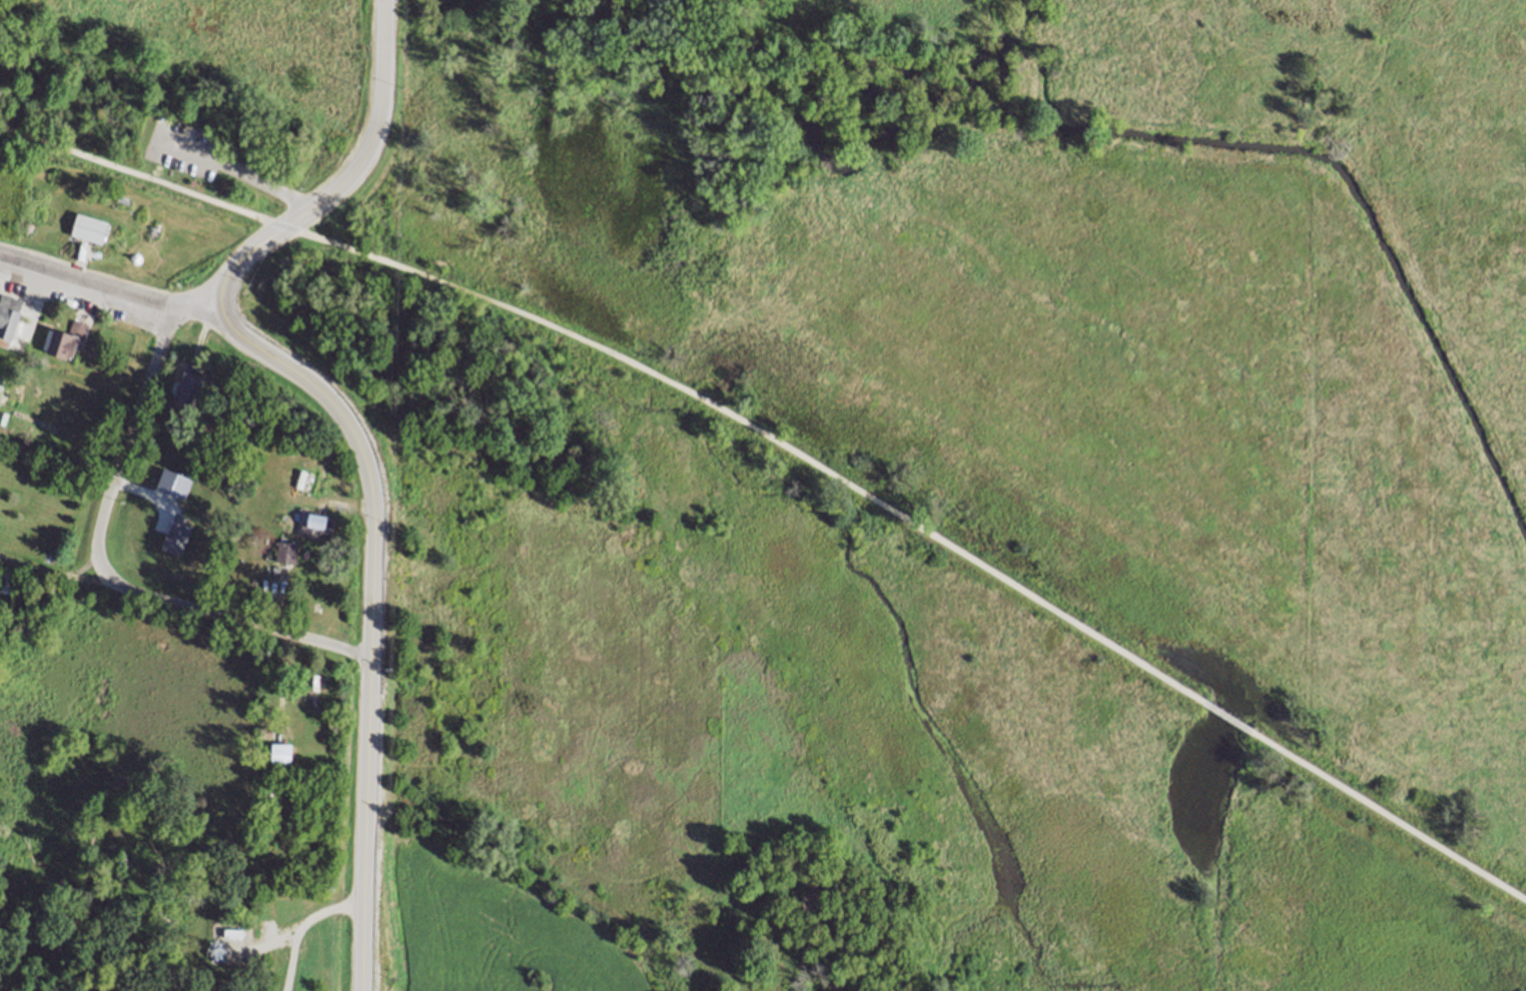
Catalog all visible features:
parking lot: (181, 151)
road: (185, 184)
road: (262, 186)
building: (87, 231)
road: (108, 291)
building: (8, 319)
building: (66, 340)
road: (626, 362)
building: (1, 384)
building: (184, 388)
building: (2, 420)
road: (353, 430)
road: (126, 434)
building: (315, 525)
building: (176, 533)
building: (287, 551)
road: (31, 570)
road: (66, 578)
building: (10, 582)
road: (227, 618)
building: (264, 675)
building: (311, 681)
building: (313, 699)
road: (1225, 718)
building: (265, 733)
building: (281, 752)
road: (1387, 817)
road: (556, 885)
building: (798, 896)
building: (830, 915)
road: (302, 925)
building: (233, 932)
building: (838, 985)
building: (861, 989)

